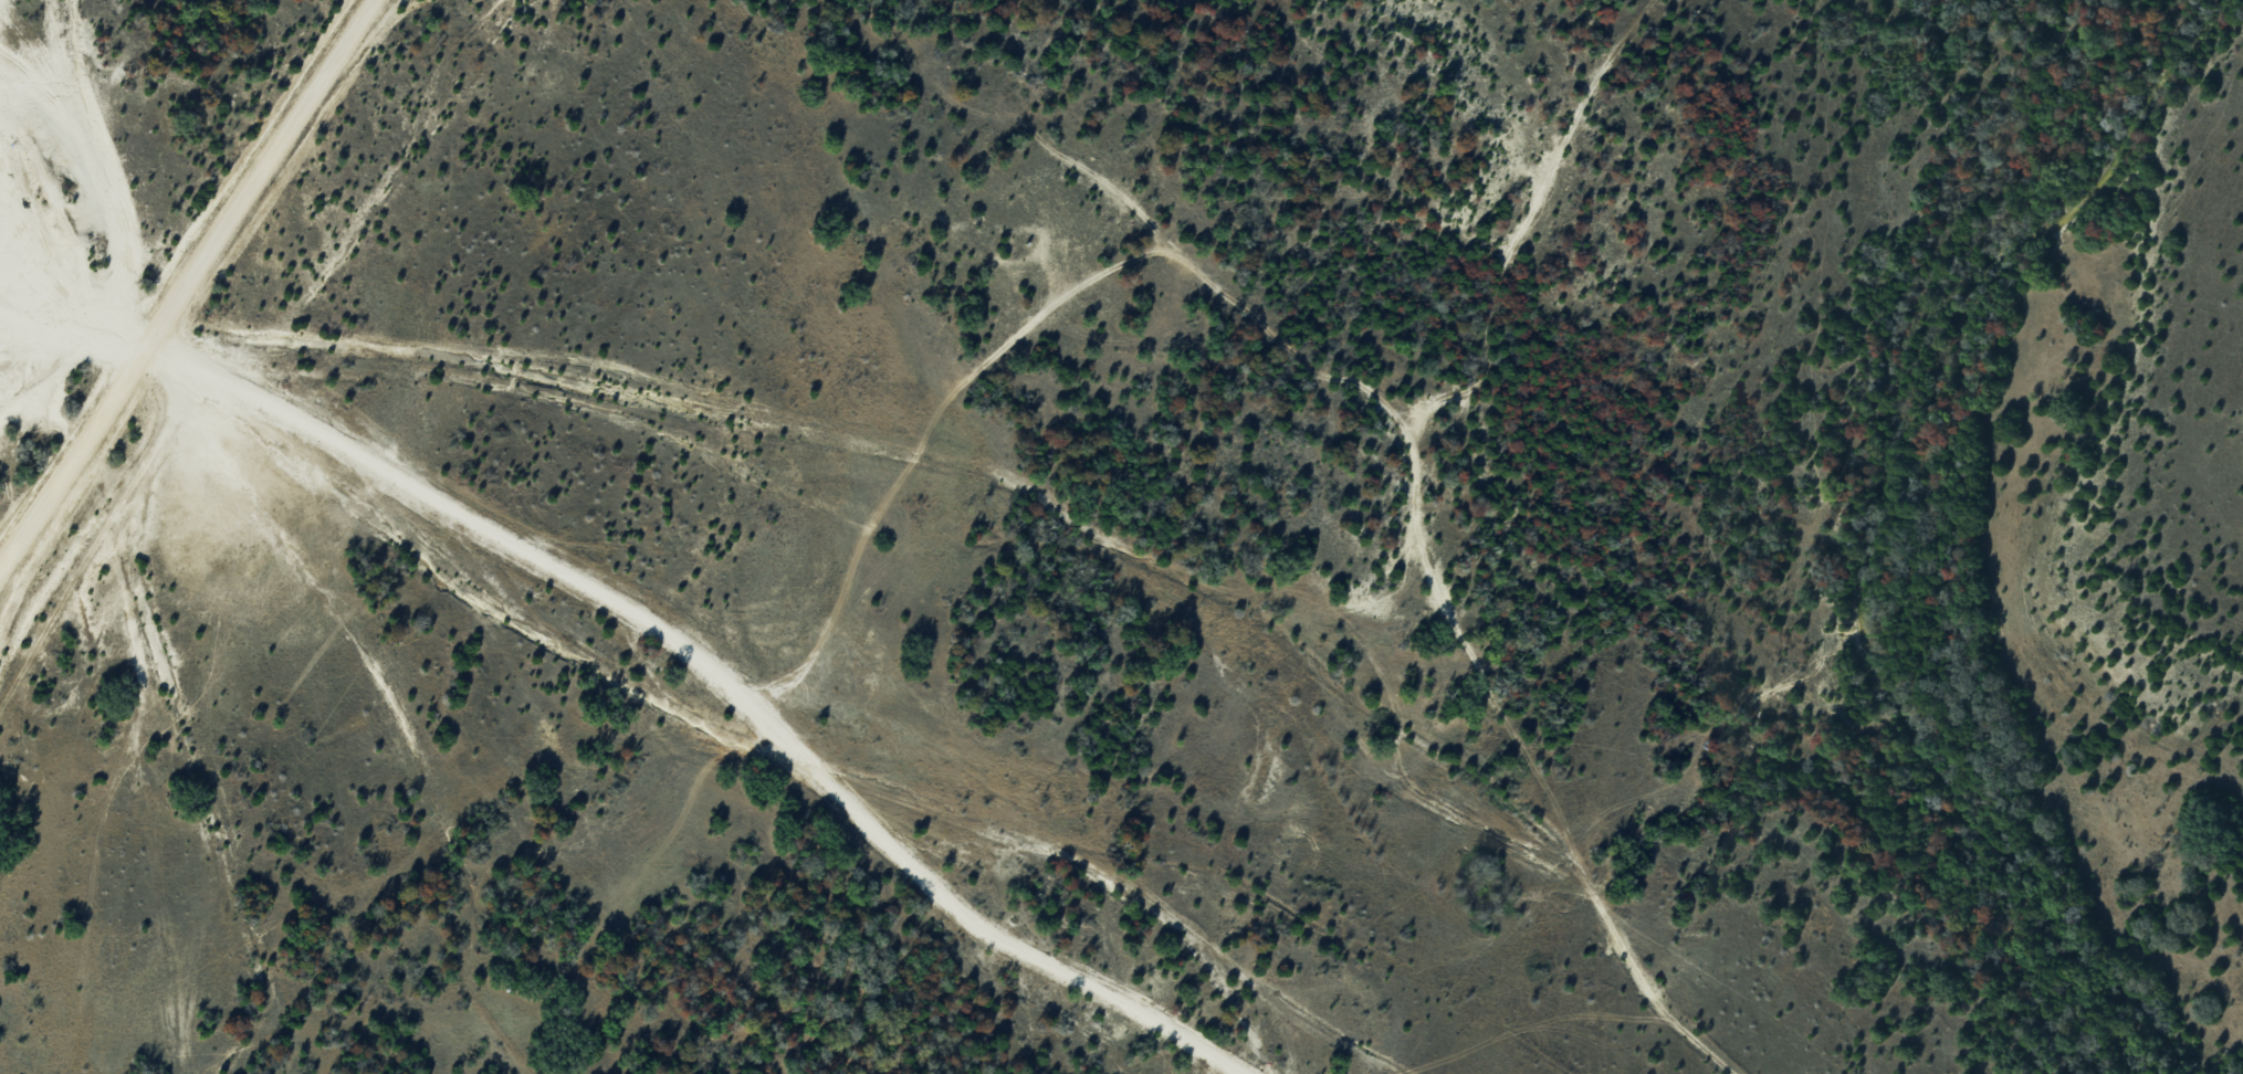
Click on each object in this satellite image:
road: (186, 280)

